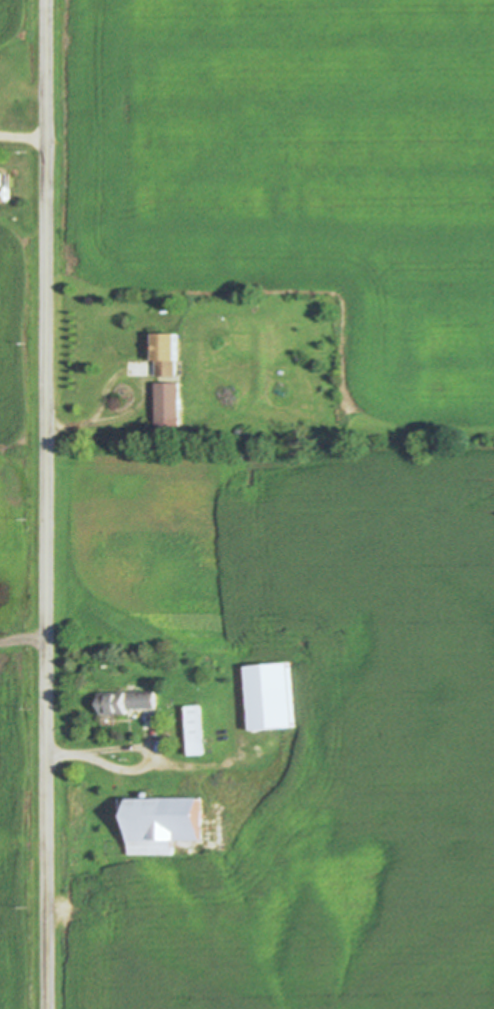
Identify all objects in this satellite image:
building: (4, 188)
building: (168, 352)
building: (172, 403)
road: (147, 408)
building: (242, 433)
road: (47, 504)
road: (23, 638)
building: (274, 696)
building: (129, 701)
building: (199, 730)
building: (79, 807)
building: (167, 823)

